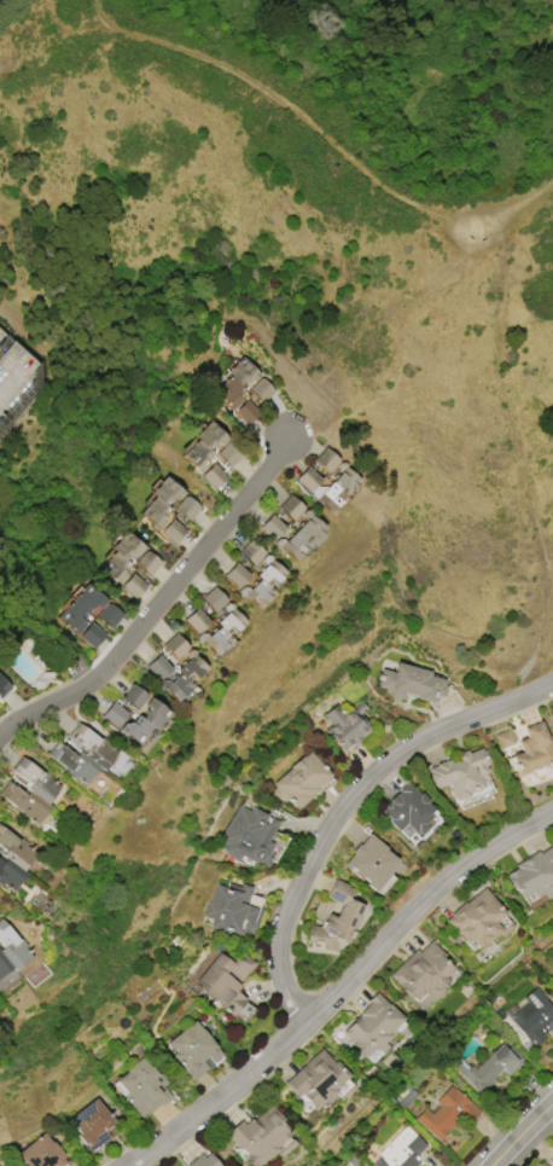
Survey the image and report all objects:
building: (14, 364)
building: (231, 381)
building: (260, 390)
road: (502, 398)
building: (243, 412)
building: (196, 446)
building: (226, 454)
building: (325, 460)
building: (210, 475)
building: (305, 478)
building: (343, 480)
building: (327, 497)
building: (155, 501)
building: (185, 506)
building: (287, 507)
building: (269, 527)
building: (307, 528)
building: (170, 530)
building: (291, 545)
building: (248, 552)
building: (122, 557)
building: (149, 562)
building: (268, 570)
building: (234, 574)
building: (135, 586)
building: (254, 591)
building: (211, 598)
building: (82, 607)
road: (161, 608)
building: (111, 615)
building: (227, 619)
building: (194, 620)
building: (93, 636)
building: (213, 638)
building: (173, 645)
building: (156, 666)
building: (190, 666)
building: (409, 683)
building: (174, 685)
building: (4, 686)
building: (133, 696)
building: (552, 712)
building: (112, 713)
building: (151, 713)
building: (552, 713)
building: (345, 724)
building: (133, 729)
building: (503, 738)
building: (91, 746)
building: (531, 750)
building: (72, 764)
building: (460, 773)
building: (301, 778)
building: (35, 781)
building: (23, 802)
road: (345, 805)
building: (407, 810)
building: (249, 836)
building: (13, 848)
building: (369, 862)
building: (8, 874)
building: (532, 875)
building: (232, 909)
building: (322, 909)
building: (336, 918)
building: (478, 918)
building: (10, 947)
building: (2, 965)
building: (421, 974)
building: (226, 980)
road: (345, 988)
building: (534, 1017)
building: (373, 1026)
building: (193, 1050)
building: (489, 1068)
building: (319, 1080)
building: (142, 1086)
building: (447, 1113)
building: (93, 1125)
building: (262, 1137)
road: (524, 1137)
building: (401, 1149)
building: (40, 1153)
building: (203, 1161)
building: (8, 1165)

